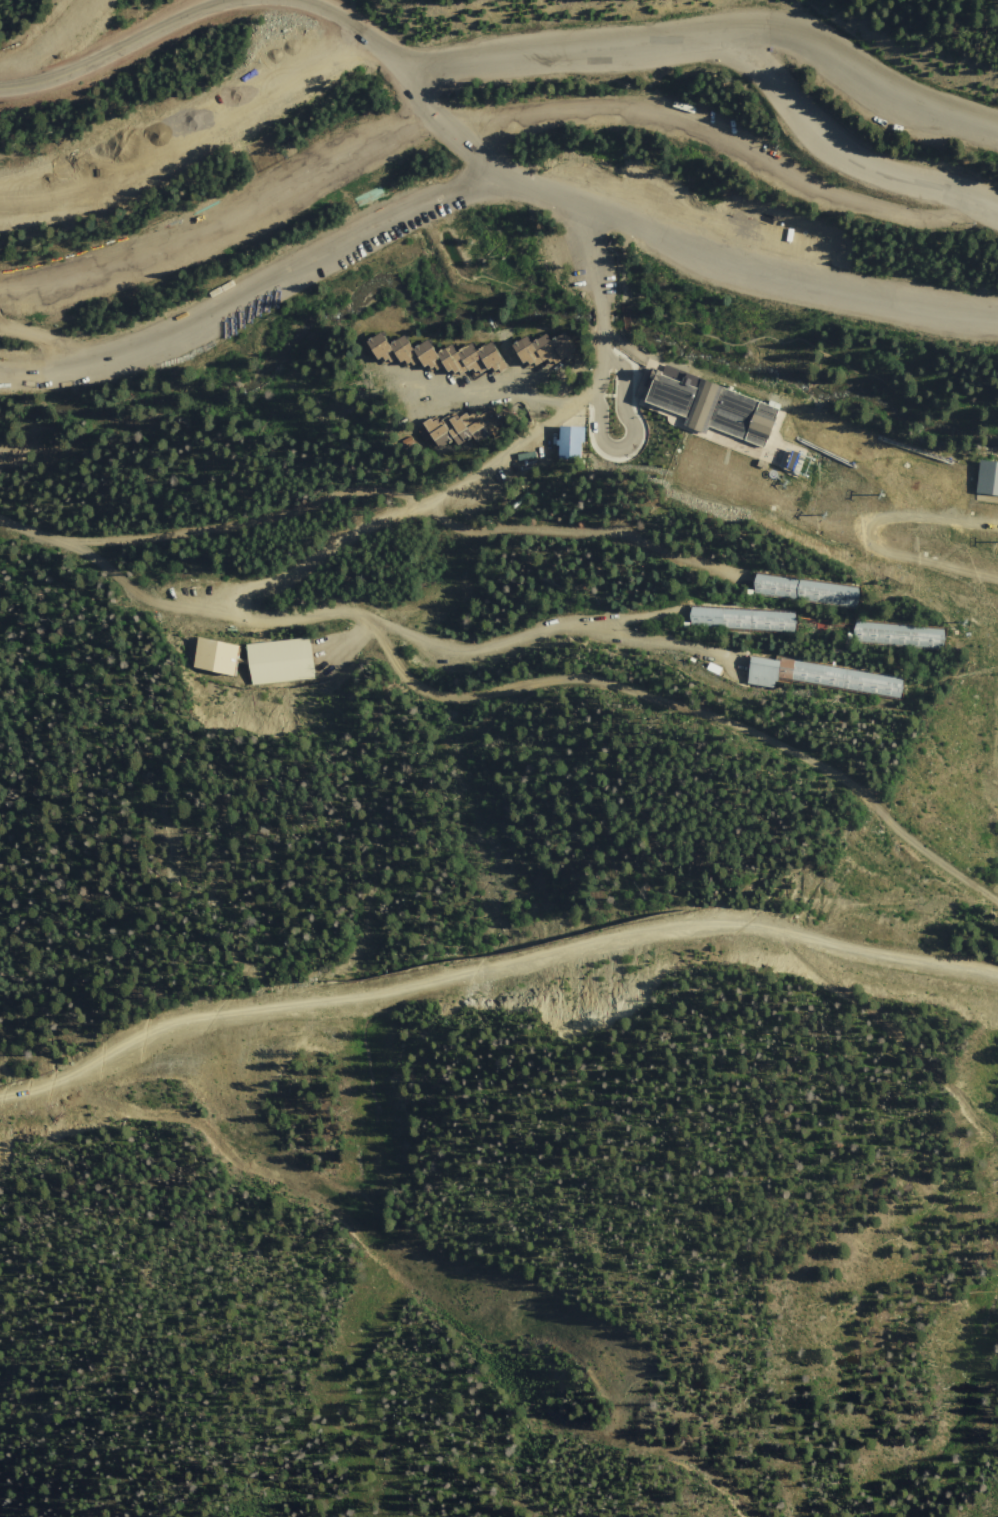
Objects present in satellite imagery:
road: (710, 35)
road: (114, 50)
road: (402, 73)
parking lot: (869, 81)
parking lot: (810, 125)
parking lot: (188, 132)
road: (718, 140)
road: (838, 151)
parking lot: (761, 162)
parking lot: (216, 216)
parking lot: (764, 263)
road: (741, 265)
parking lot: (251, 288)
road: (256, 294)
road: (627, 321)
road: (58, 339)
road: (797, 339)
building: (540, 352)
building: (436, 356)
road: (497, 388)
building: (711, 405)
building: (460, 427)
road: (634, 437)
building: (570, 439)
building: (527, 455)
building: (795, 459)
building: (987, 479)
aerialway pylon: (886, 496)
aerialway pylon: (828, 514)
road: (251, 518)
road: (582, 532)
road: (865, 533)
road: (125, 578)
road: (997, 582)
building: (805, 591)
road: (274, 620)
building: (743, 620)
aerialway pylon: (971, 626)
road: (533, 633)
building: (899, 636)
building: (215, 657)
building: (280, 662)
building: (821, 677)
road: (930, 691)
road: (927, 856)
road: (997, 904)
road: (492, 969)
road: (879, 1039)
road: (391, 1107)
ski resort: (568, 1123)
road: (382, 1368)

